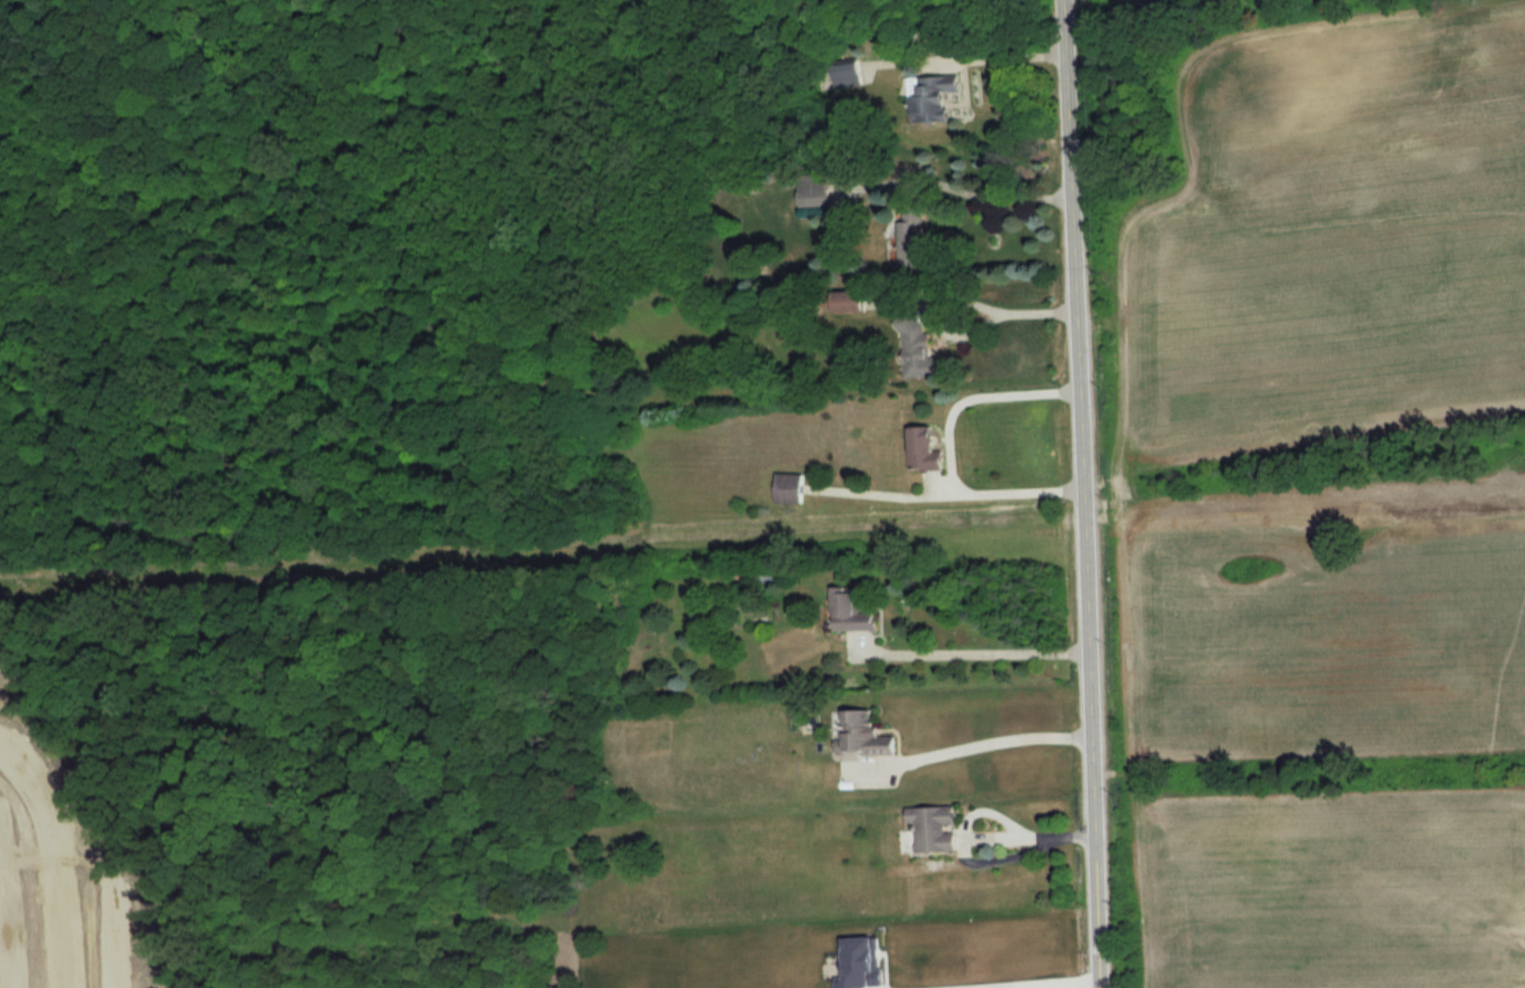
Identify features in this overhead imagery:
crop: (1137, 3)
road: (152, 15)
road: (1015, 56)
building: (849, 75)
building: (935, 99)
road: (991, 198)
building: (911, 236)
crop: (1340, 258)
building: (849, 302)
road: (970, 331)
building: (916, 350)
road: (973, 395)
building: (926, 449)
building: (790, 489)
road: (1087, 493)
road: (952, 494)
crop: (1345, 543)
crop: (1345, 543)
crop: (1247, 565)
crop: (1247, 565)
building: (852, 612)
crop: (1333, 624)
road: (978, 650)
building: (864, 737)
road: (984, 745)
building: (934, 829)
road: (54, 863)
crop: (1332, 888)
road: (1046, 983)

